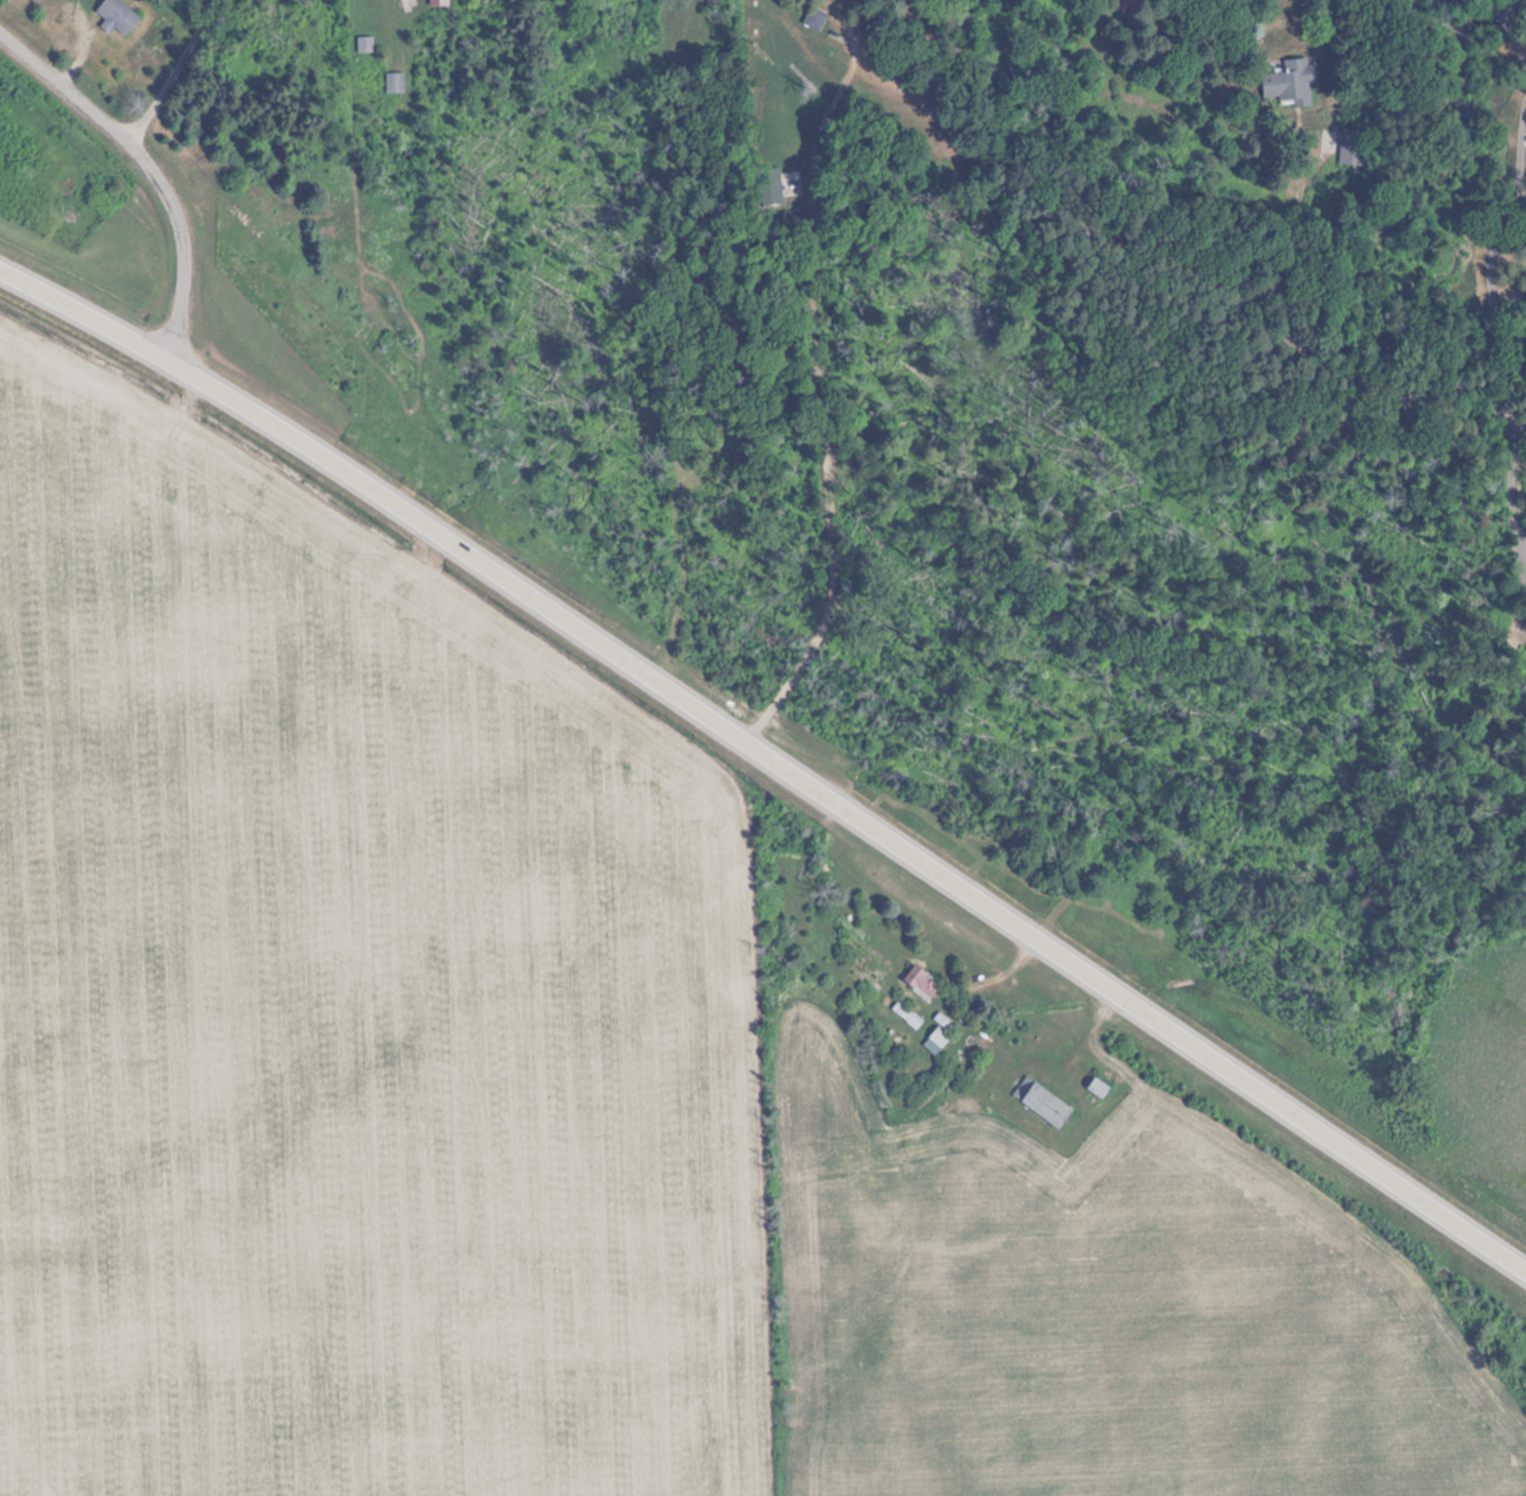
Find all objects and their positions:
building: (439, 3)
building: (113, 16)
building: (812, 19)
building: (363, 40)
road: (174, 73)
building: (392, 82)
building: (1286, 82)
road: (148, 168)
building: (764, 184)
road: (1135, 261)
road: (1499, 263)
road: (84, 314)
road: (819, 483)
road: (848, 814)
building: (917, 982)
crop: (350, 1009)
building: (940, 1030)
building: (1096, 1088)
building: (1038, 1102)

